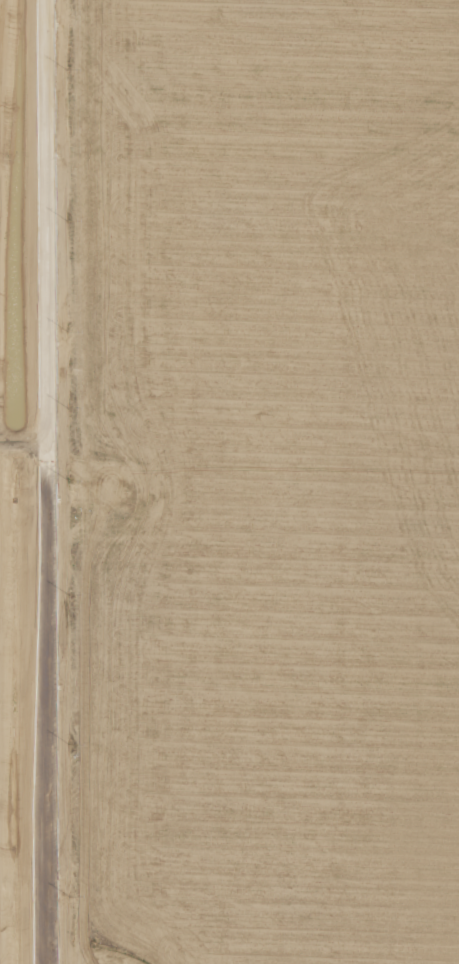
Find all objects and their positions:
road: (50, 482)

